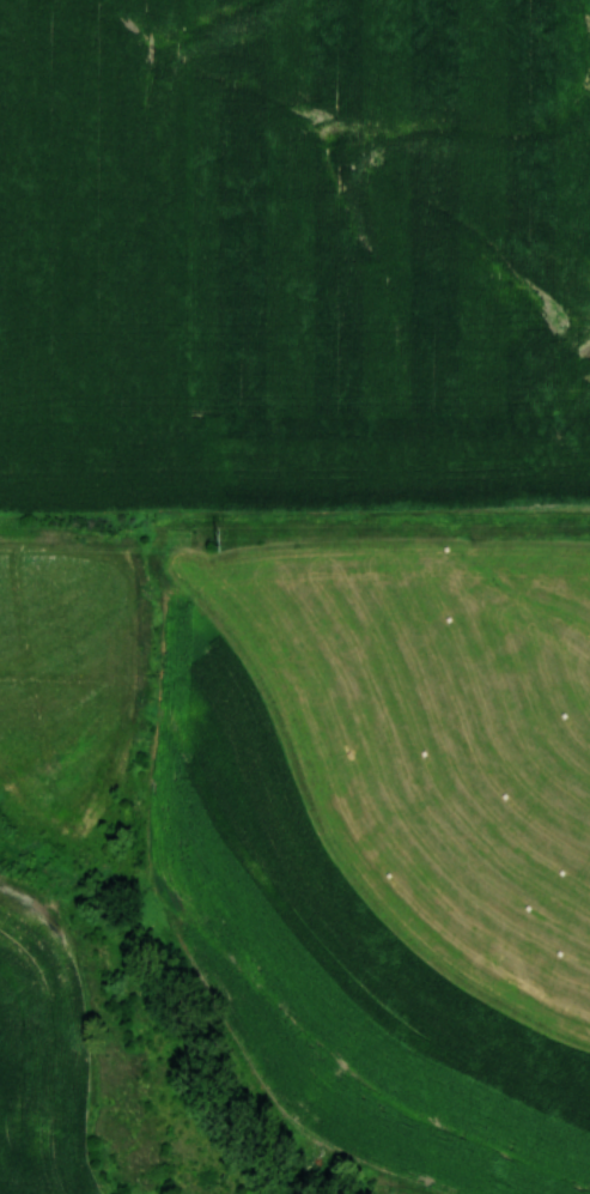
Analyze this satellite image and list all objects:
power tower: (217, 539)

